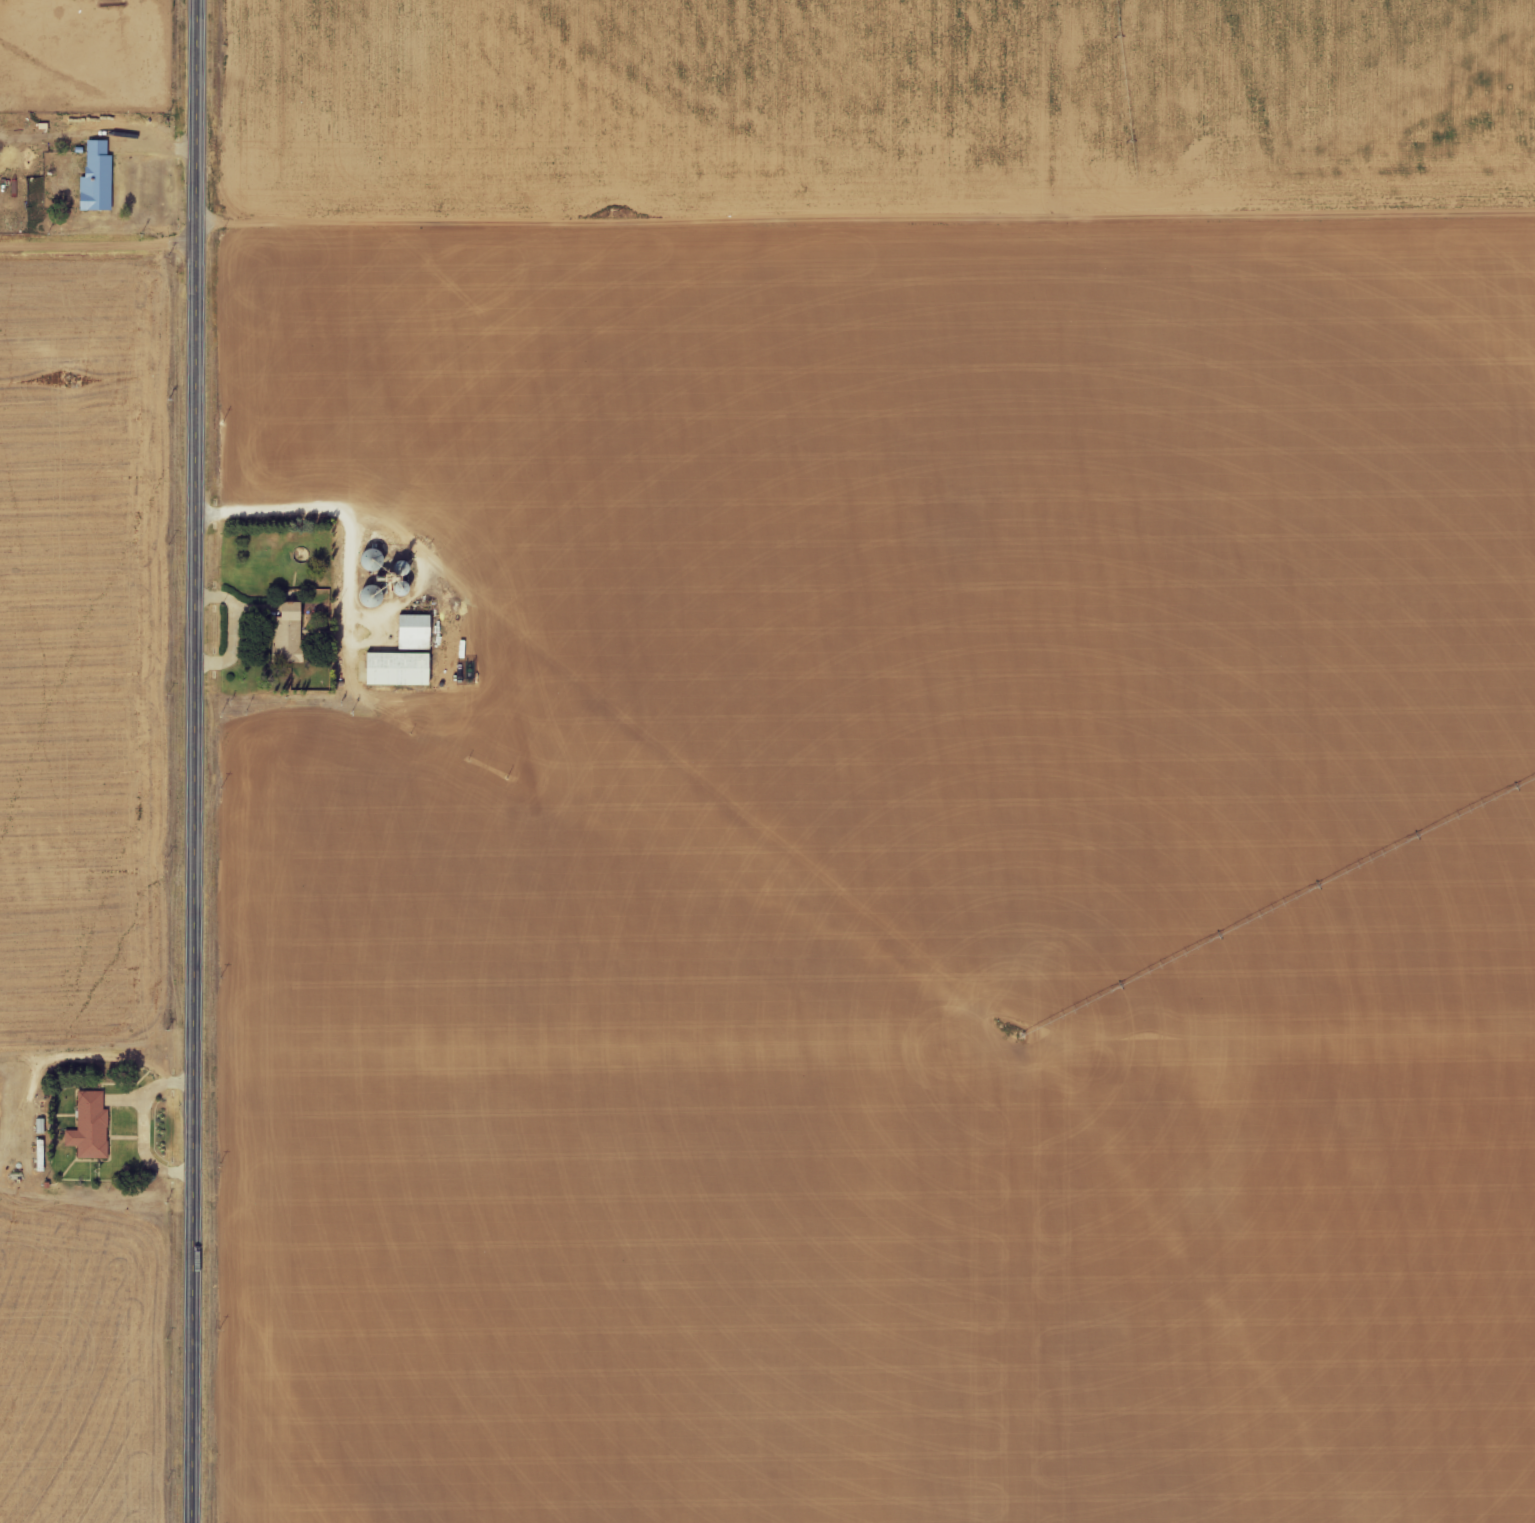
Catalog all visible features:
building: (98, 179)
road: (98, 247)
building: (414, 633)
building: (289, 634)
building: (398, 670)
road: (195, 761)
building: (90, 1128)

